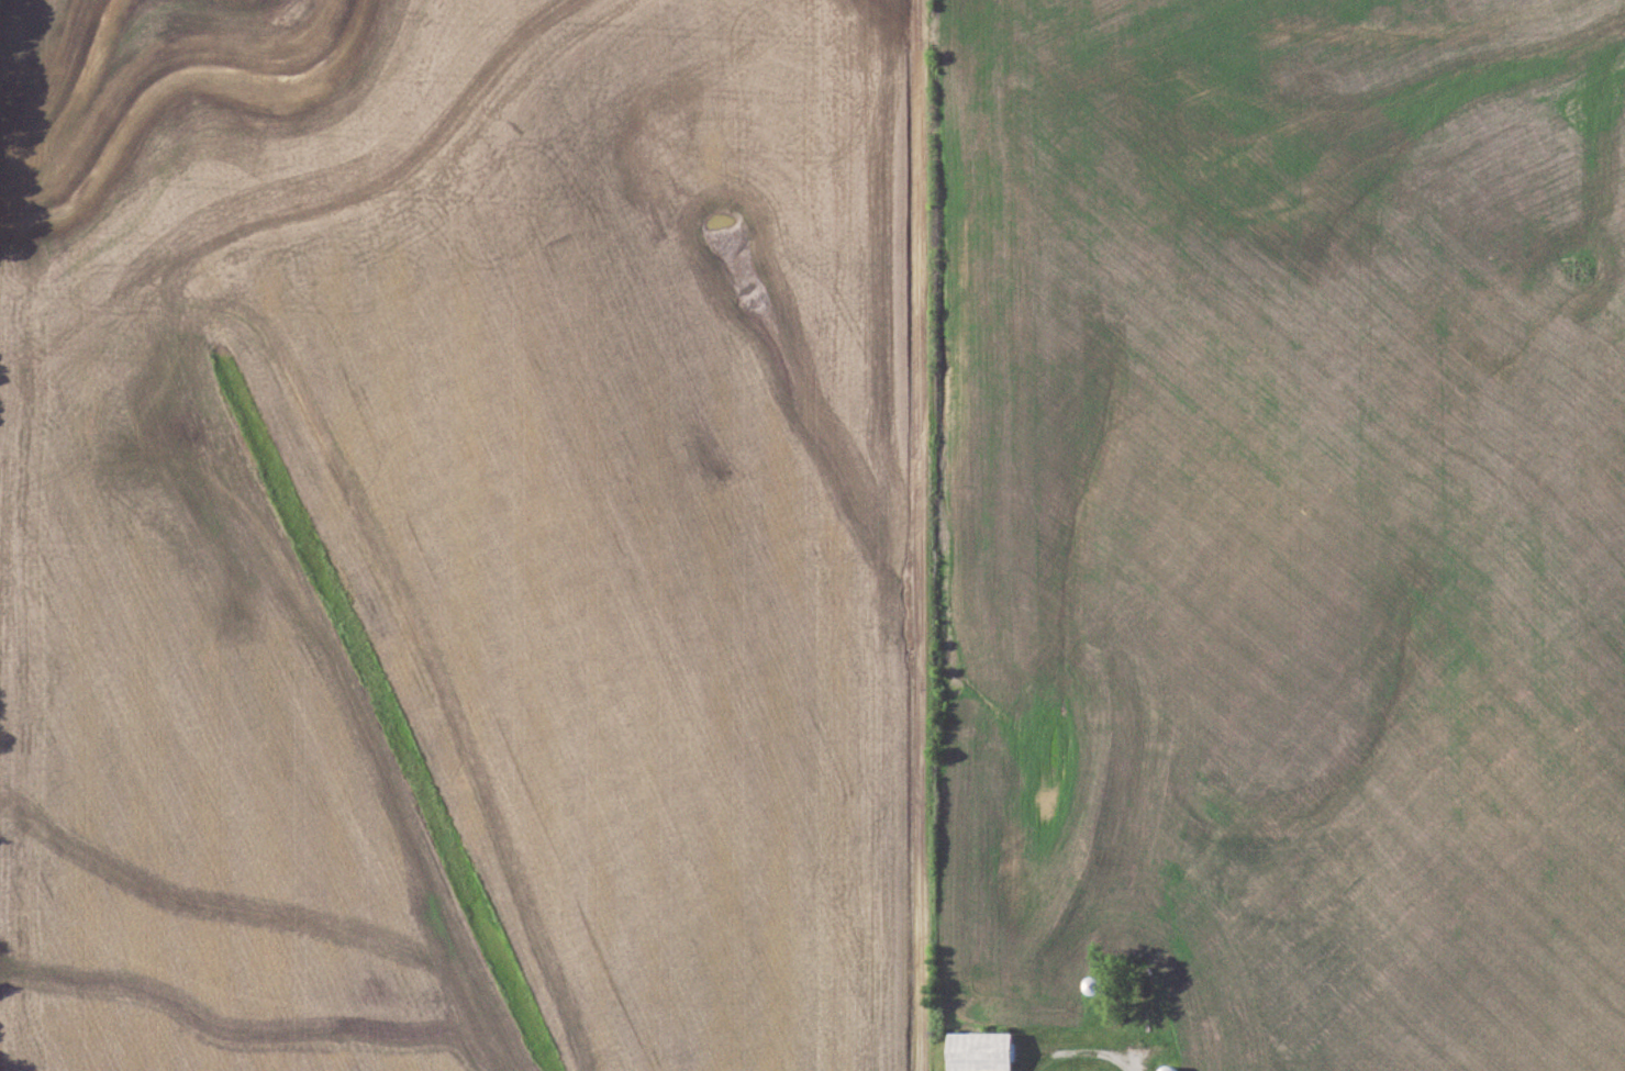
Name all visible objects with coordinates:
crop: (1291, 522)
road: (909, 535)
building: (1270, 892)
silo: (1090, 981)
road: (1076, 1048)
building: (983, 1049)
building: (1162, 1068)
silo: (1162, 1068)
building: (1171, 1068)

